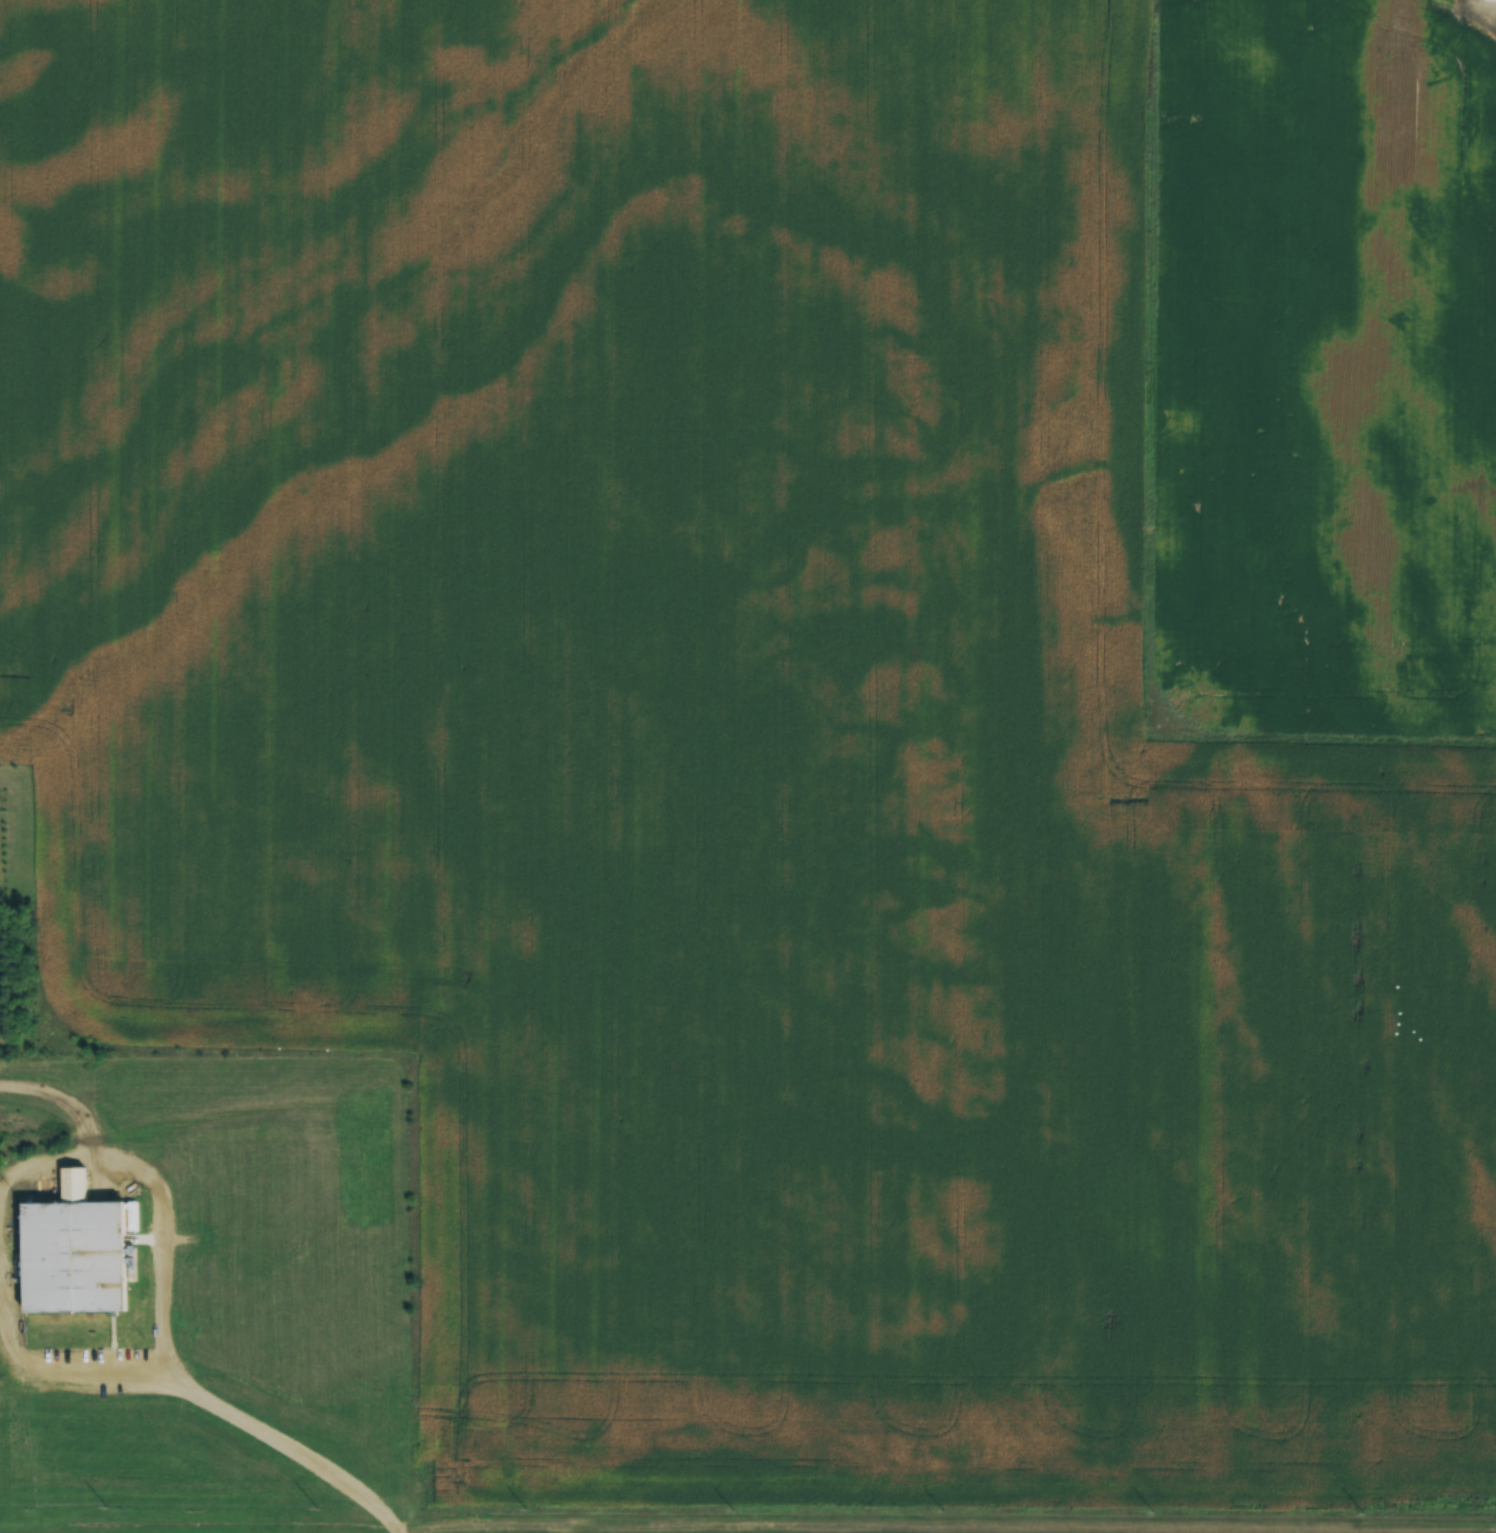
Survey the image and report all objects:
building: (1492, 0)
crop: (728, 742)
road: (60, 1097)
road: (40, 1165)
road: (160, 1235)
building: (74, 1257)
road: (78, 1370)
road: (284, 1447)

